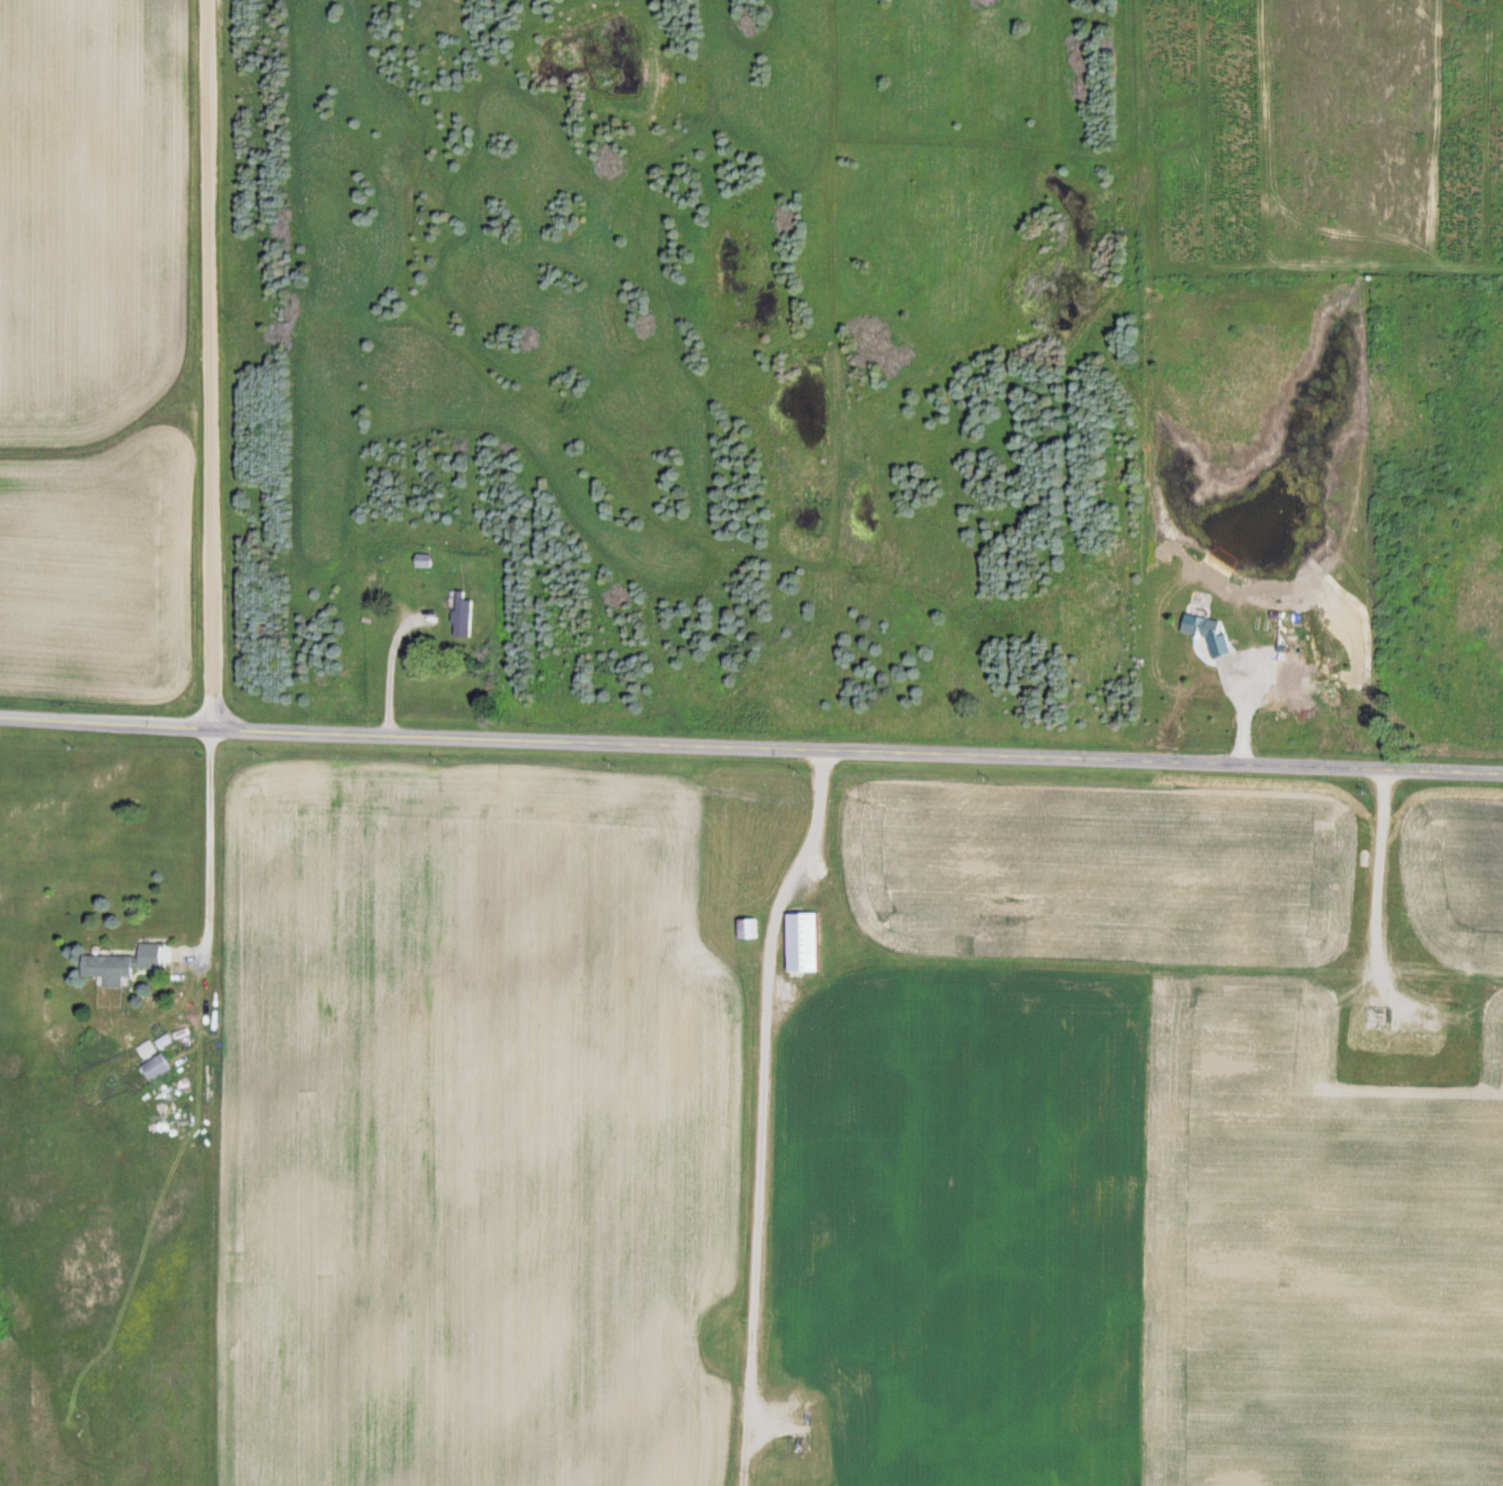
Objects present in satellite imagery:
road: (210, 364)
building: (422, 562)
building: (462, 619)
road: (751, 746)
building: (748, 929)
building: (800, 942)
building: (120, 965)
building: (154, 1068)

